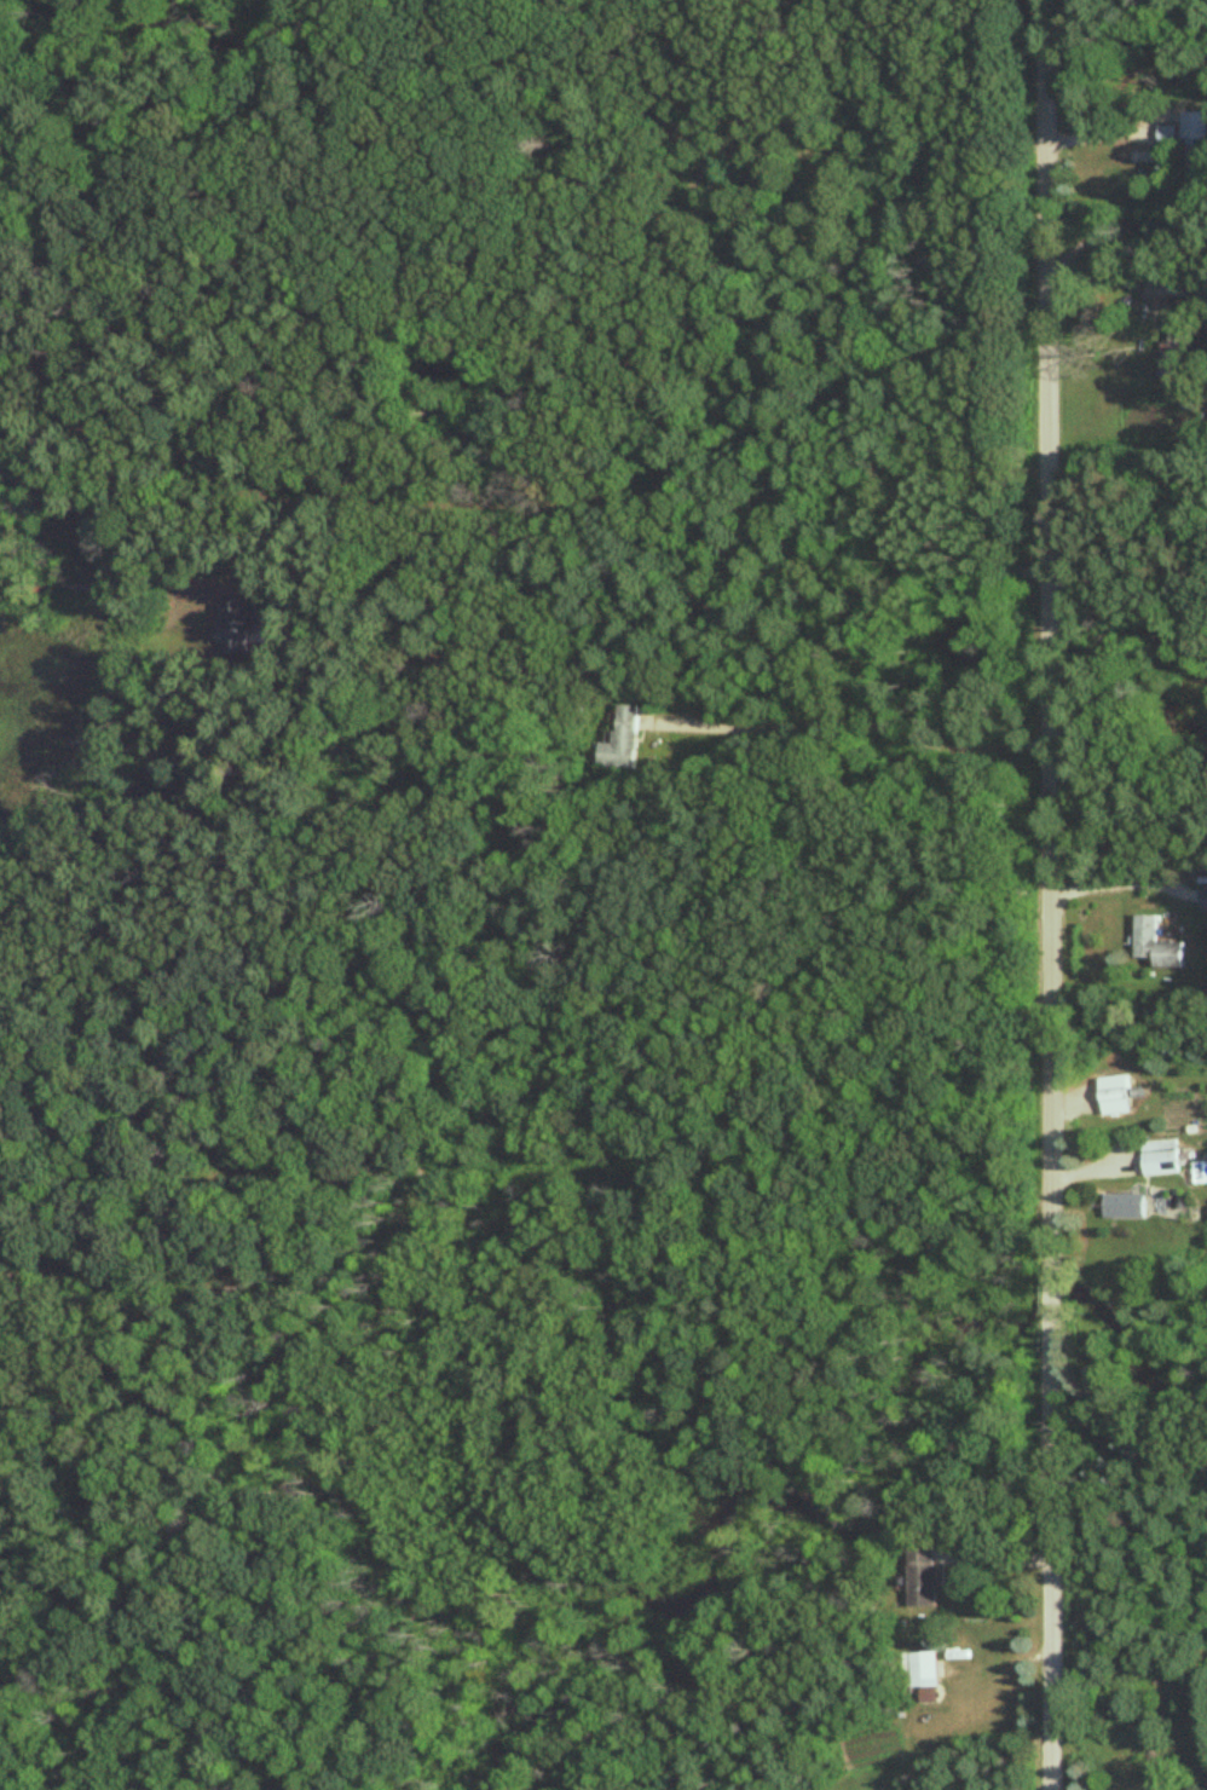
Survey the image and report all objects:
road: (1114, 121)
building: (1166, 135)
building: (1197, 166)
building: (1202, 295)
building: (1176, 348)
road: (1126, 583)
road: (656, 614)
building: (237, 628)
road: (860, 727)
building: (622, 741)
road: (1116, 884)
road: (1049, 894)
building: (1202, 901)
building: (1154, 947)
road: (490, 1043)
building: (1111, 1096)
building: (1159, 1157)
building: (1120, 1207)
building: (920, 1578)
building: (919, 1671)
building: (1147, 1772)

